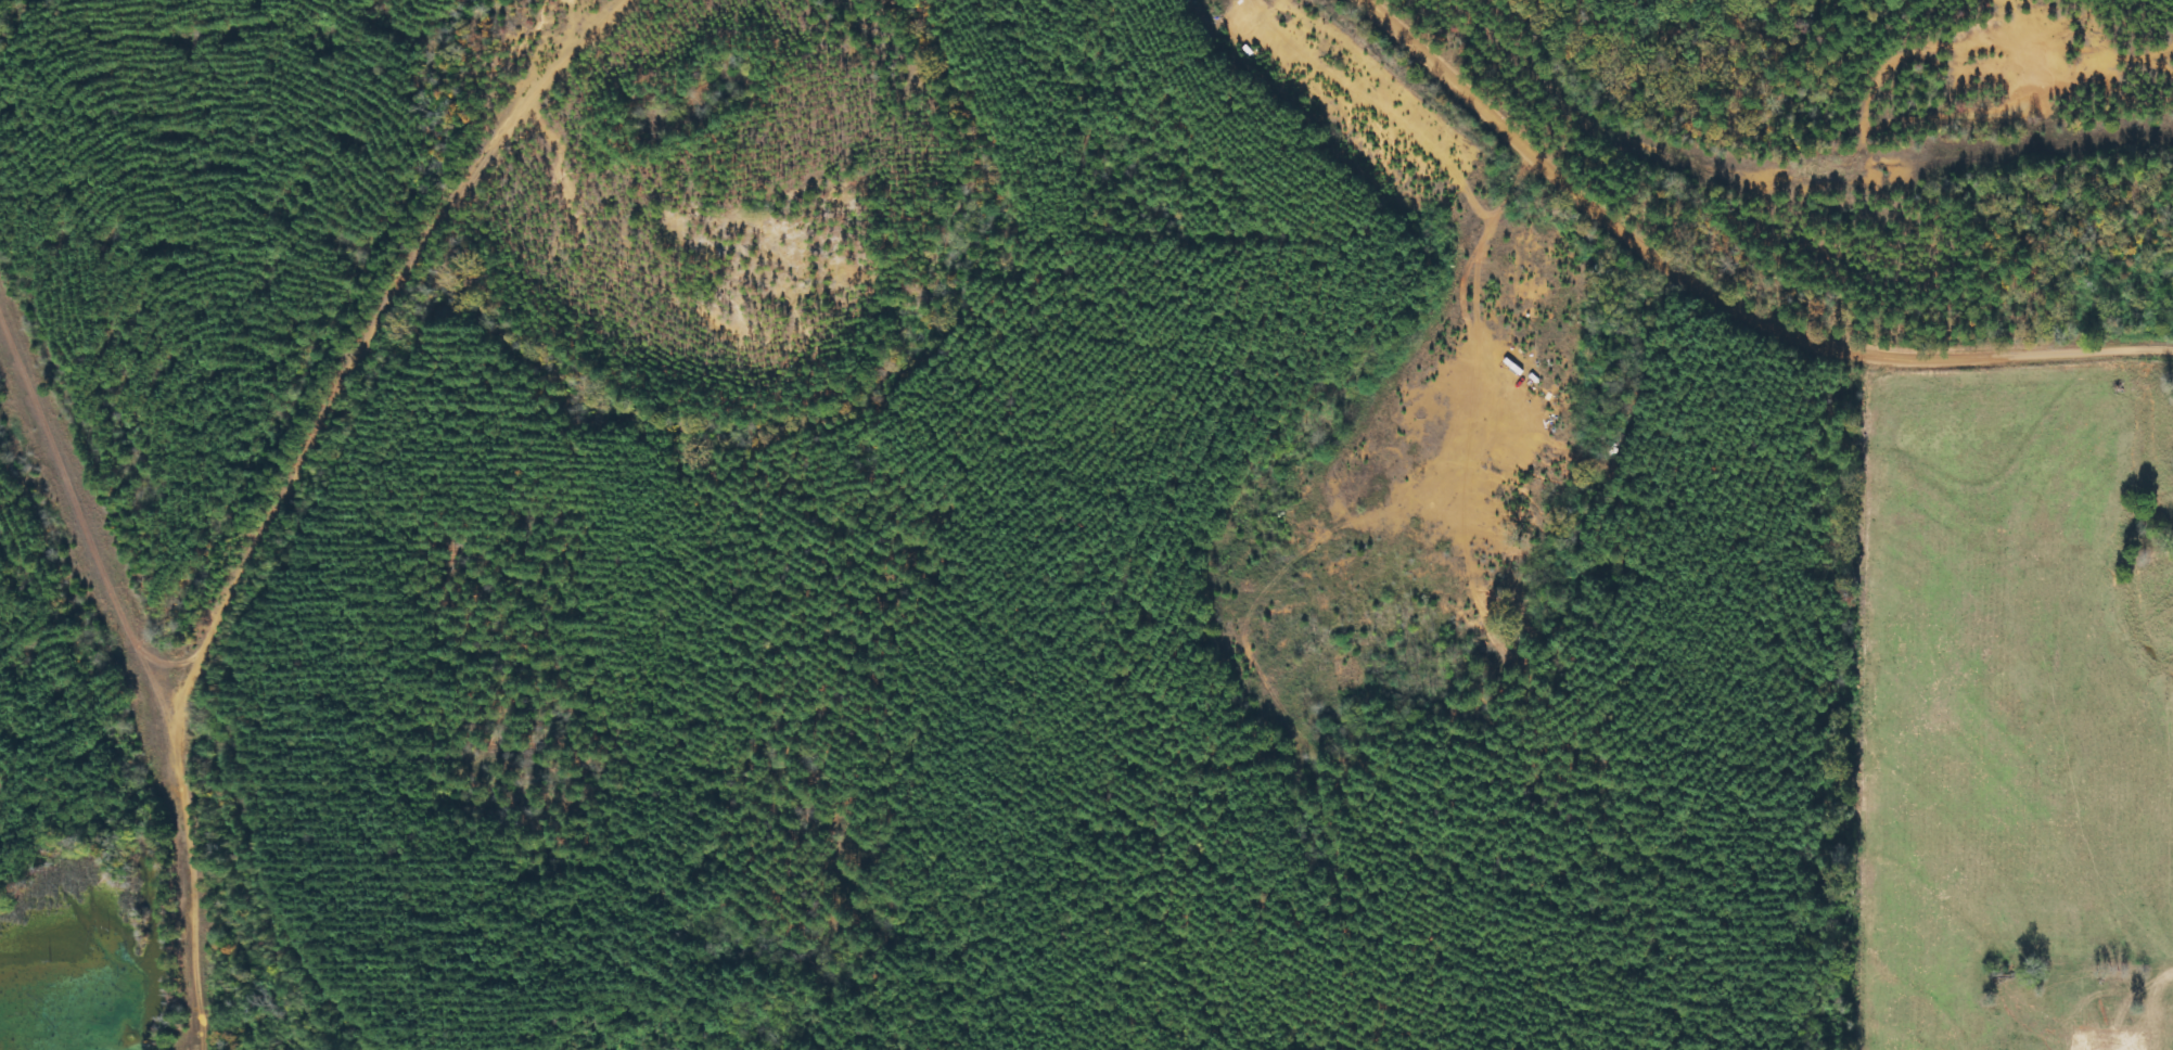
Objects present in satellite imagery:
road: (1721, 296)

